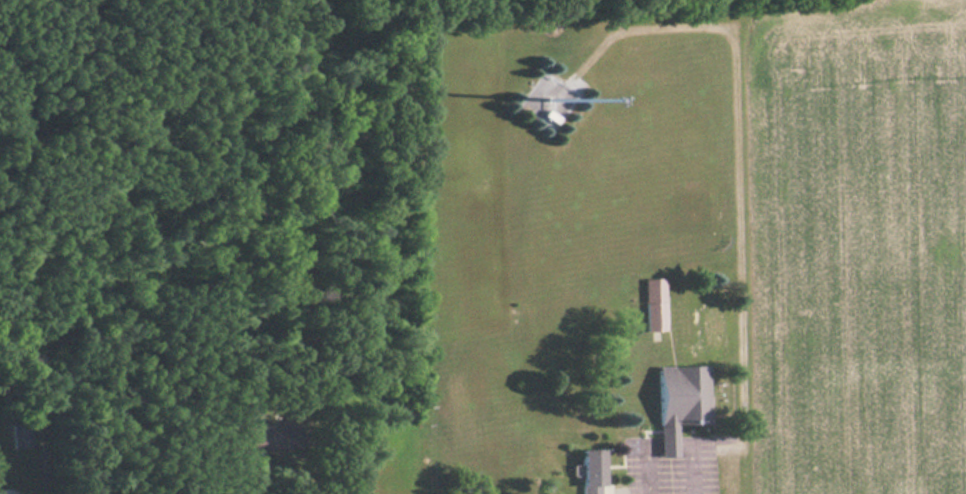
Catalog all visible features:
building: (655, 303)
building: (681, 401)
building: (21, 434)
building: (266, 437)
building: (592, 471)

